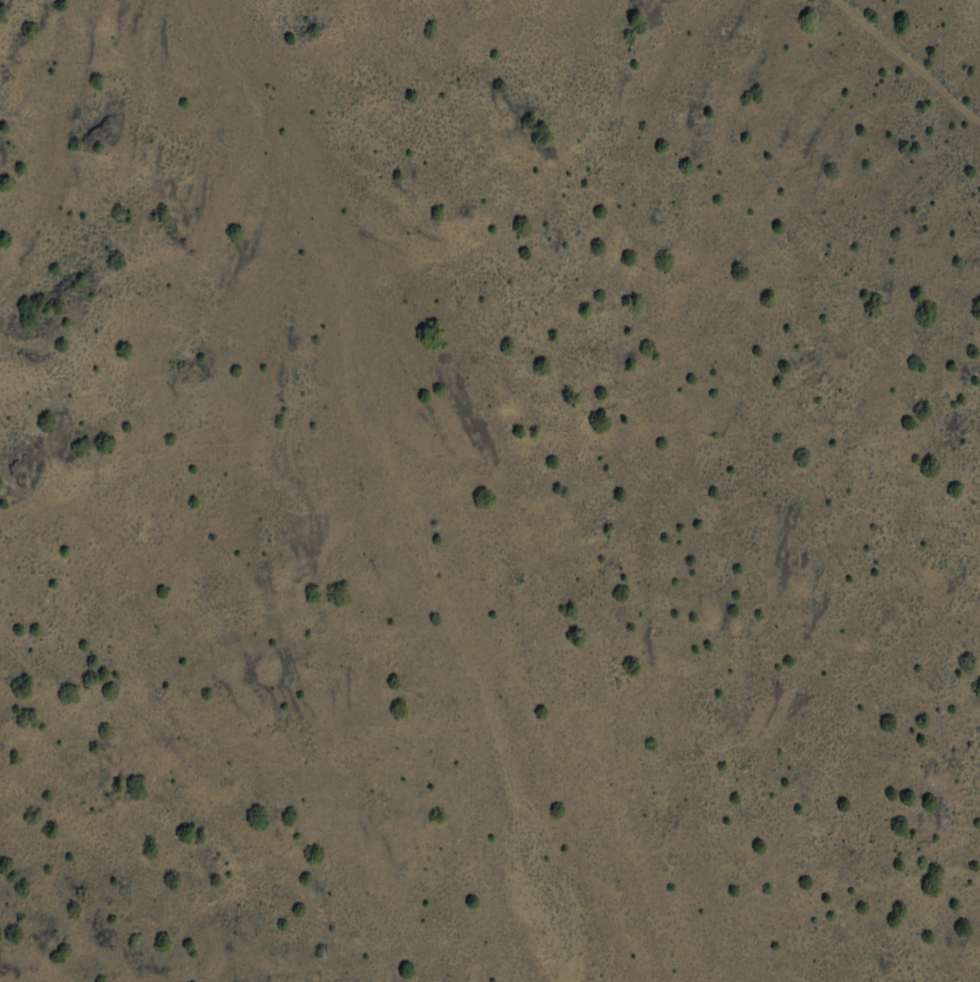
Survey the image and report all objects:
road: (911, 55)

